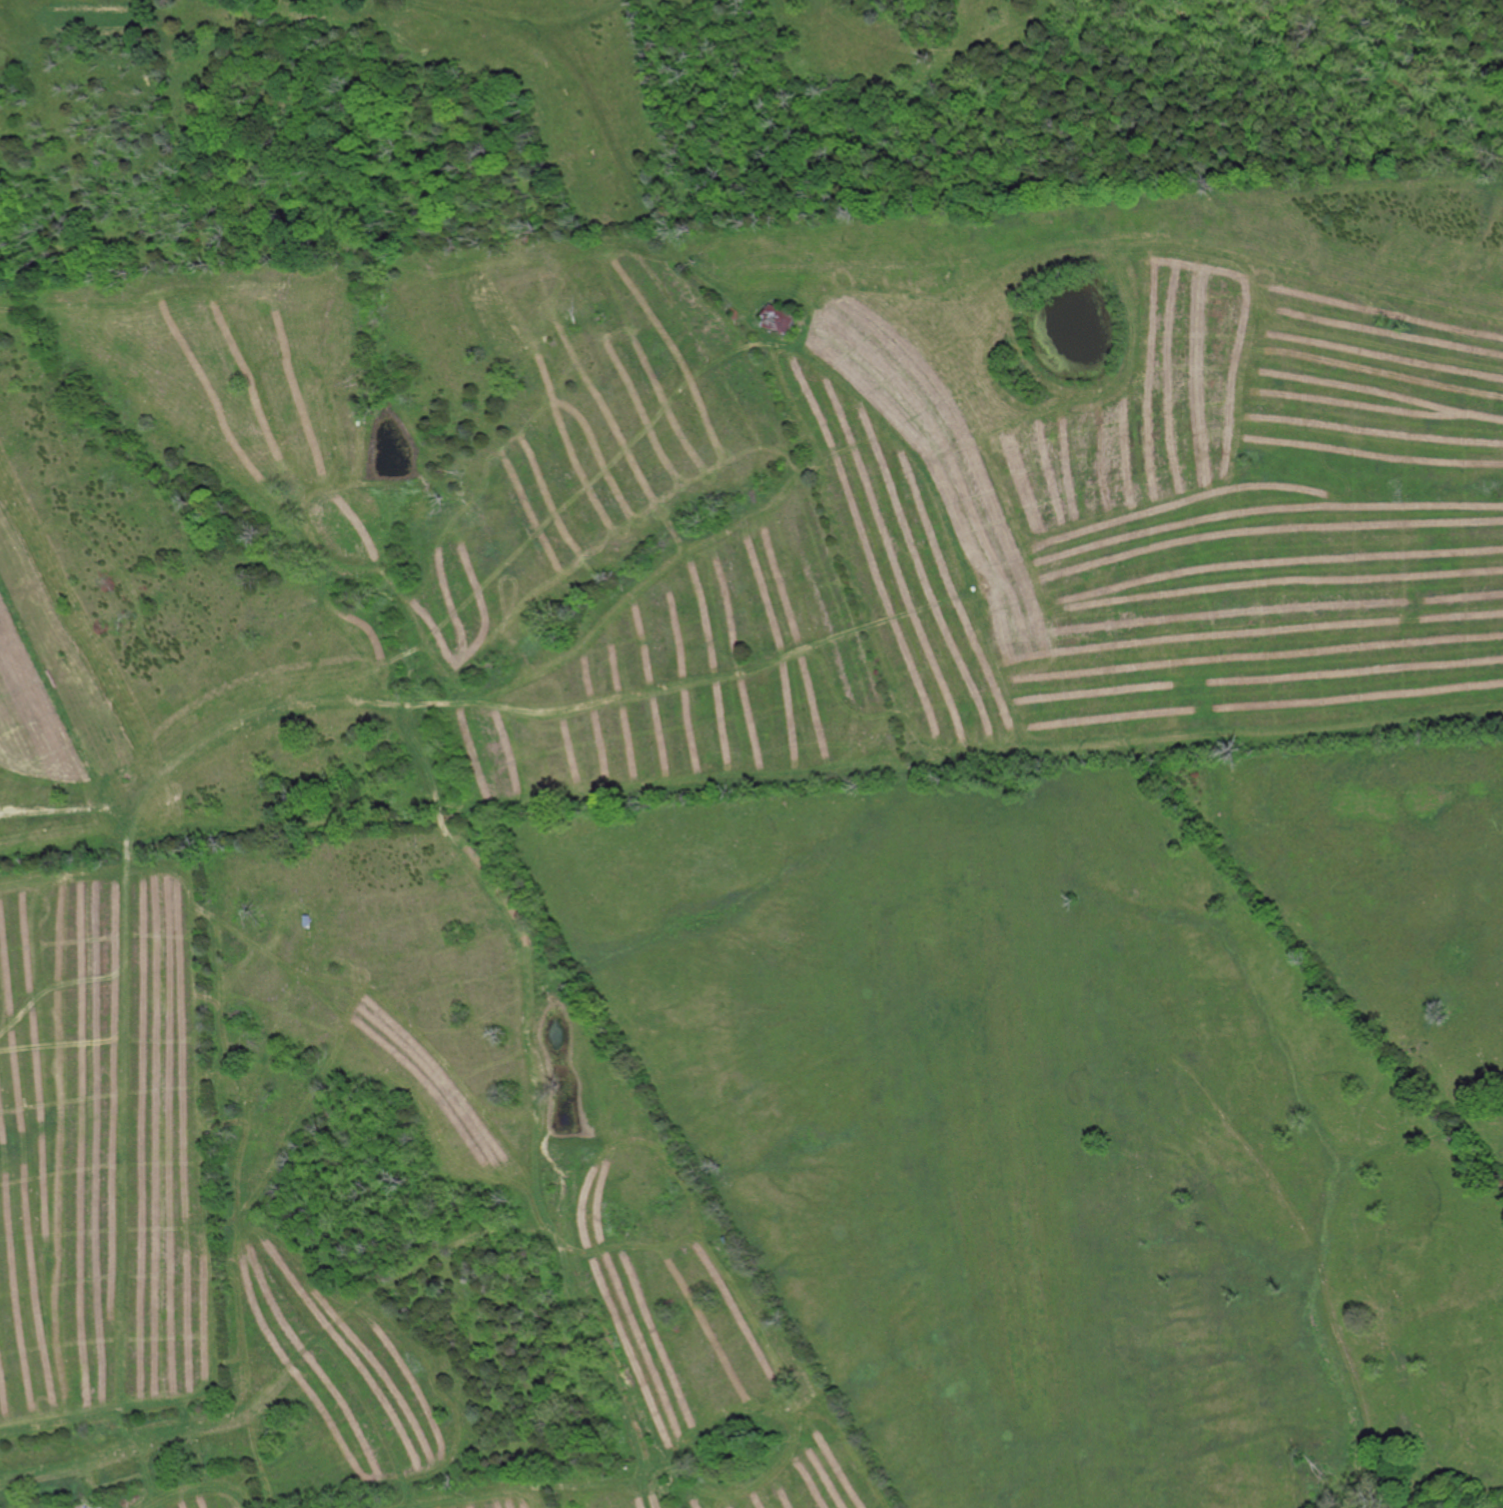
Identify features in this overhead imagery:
road: (552, 122)

